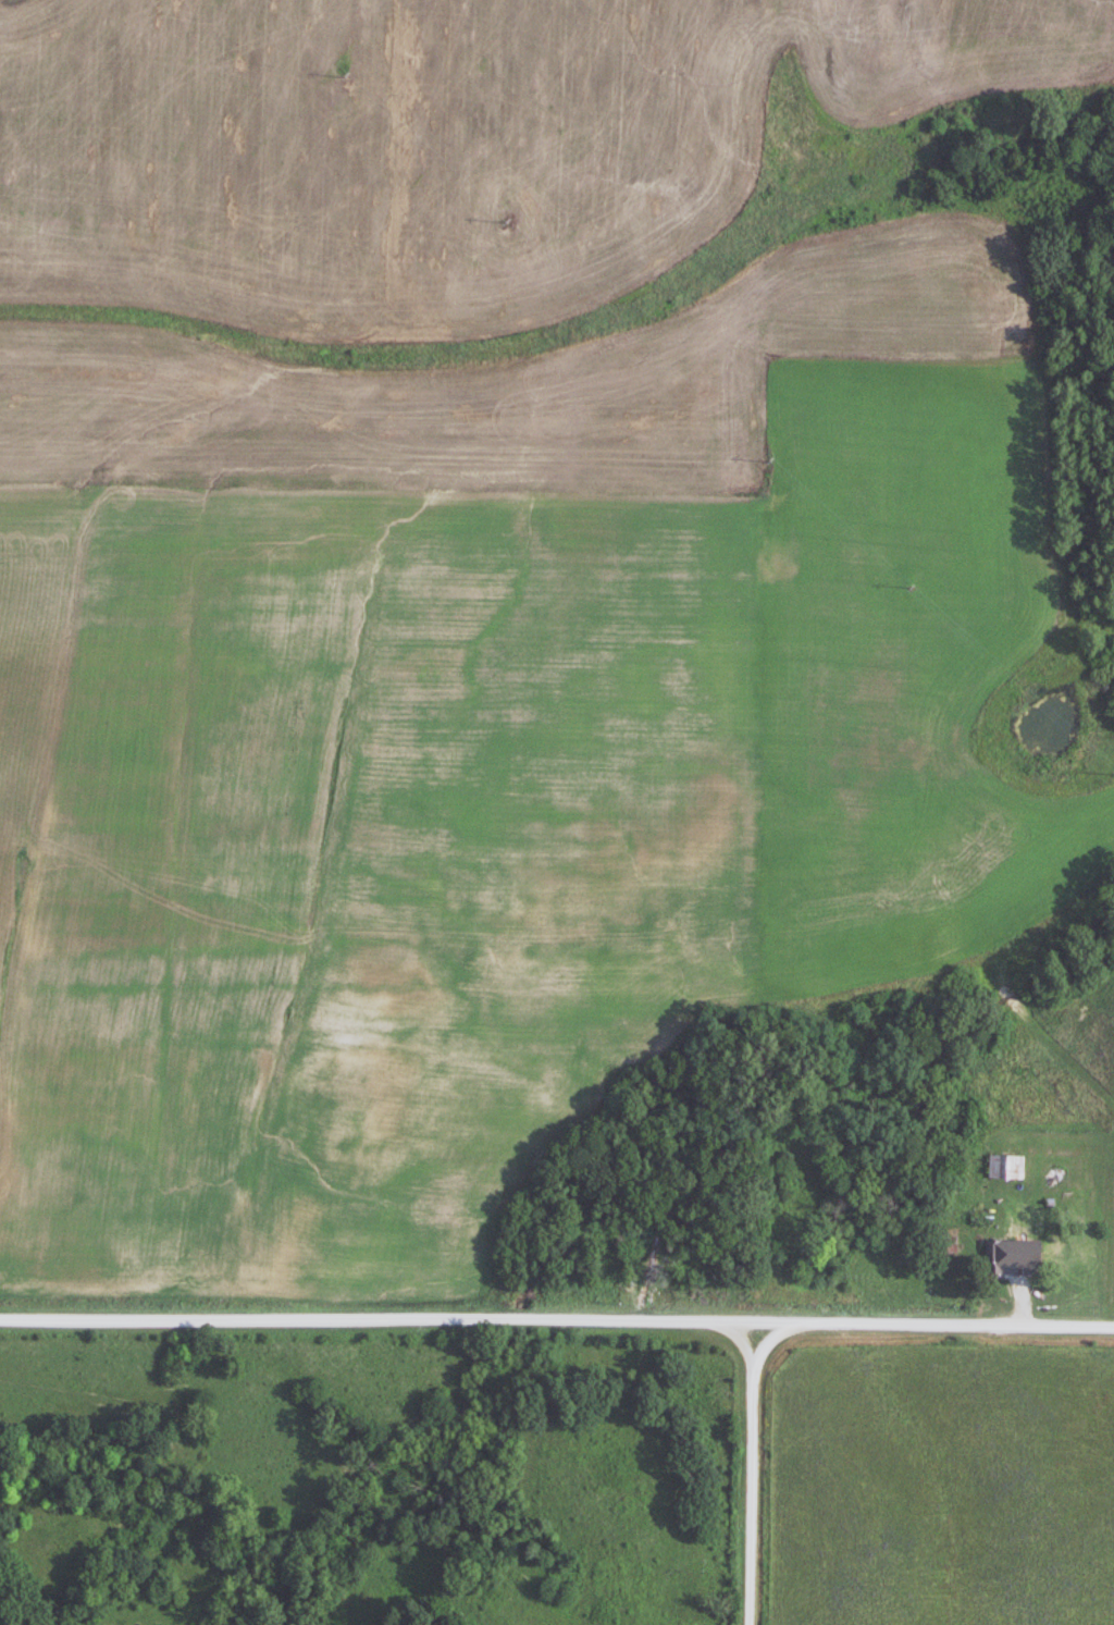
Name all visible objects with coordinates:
building: (1006, 1165)
building: (997, 1256)
road: (376, 1316)
road: (933, 1324)
road: (751, 1474)

